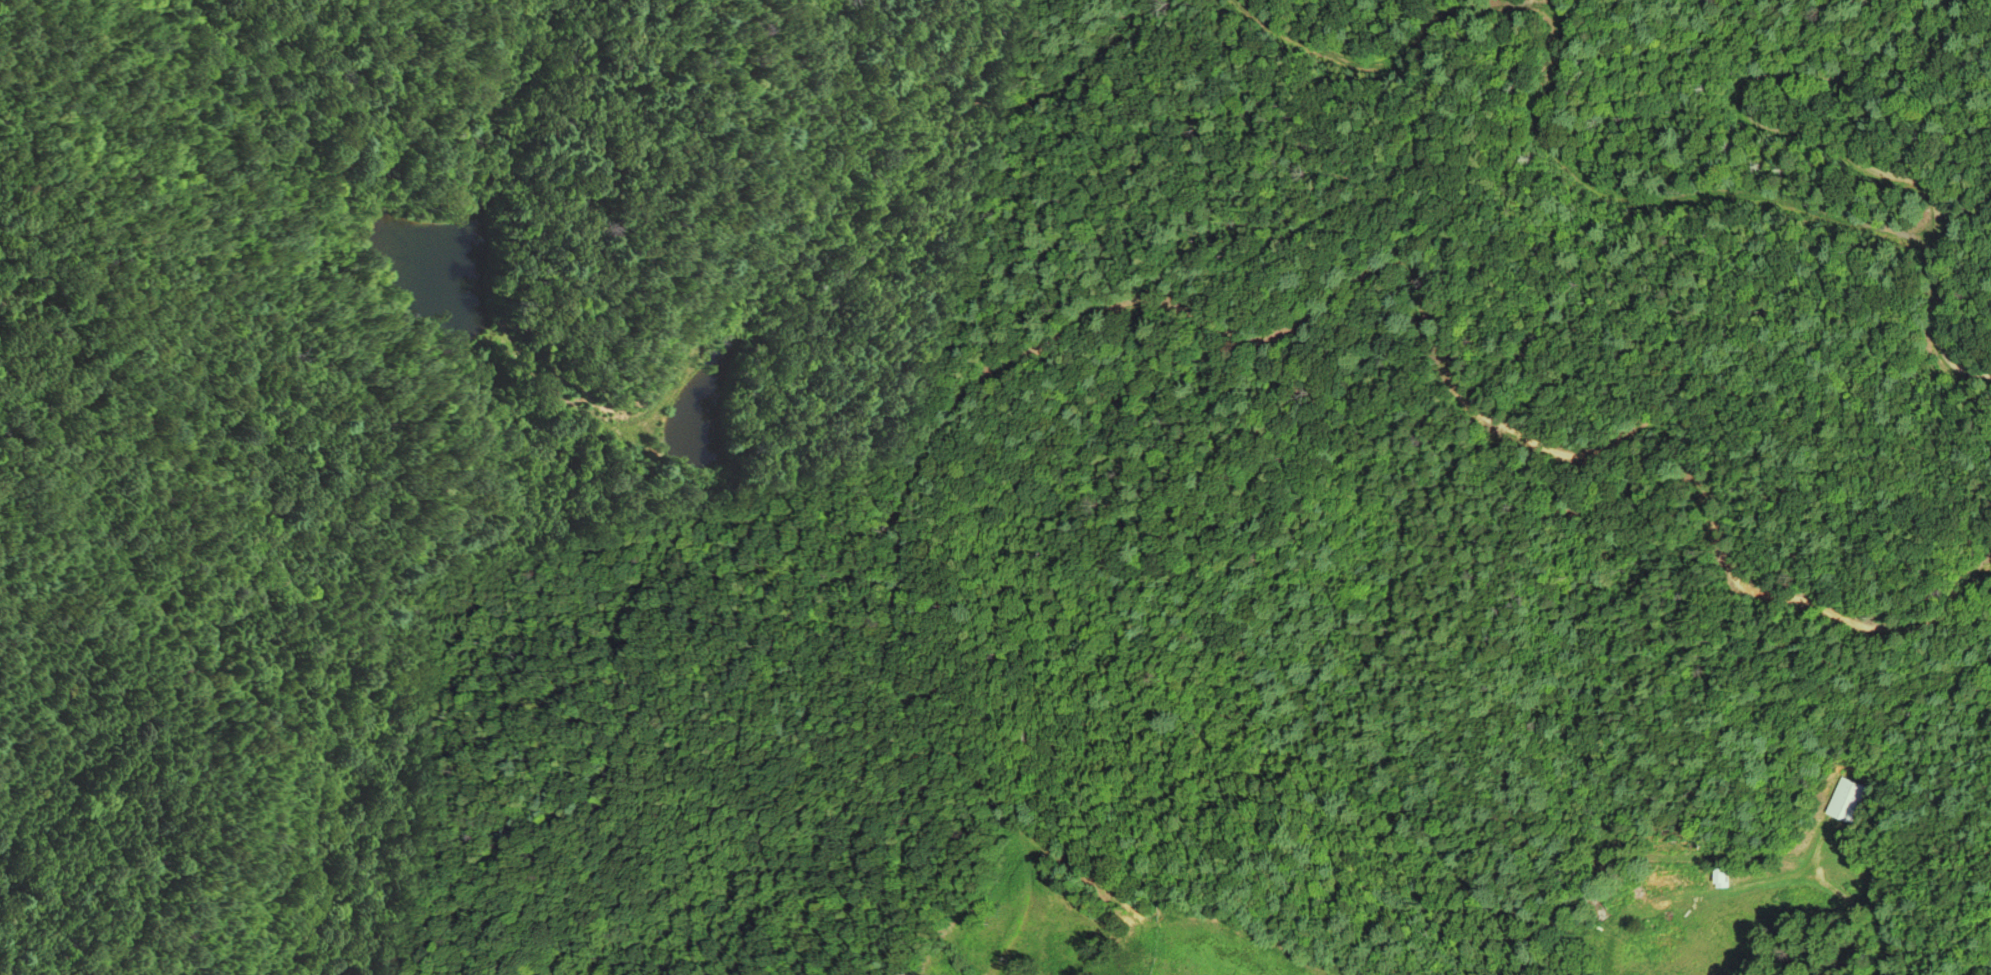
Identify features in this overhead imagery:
building: (1845, 800)
building: (1720, 875)

